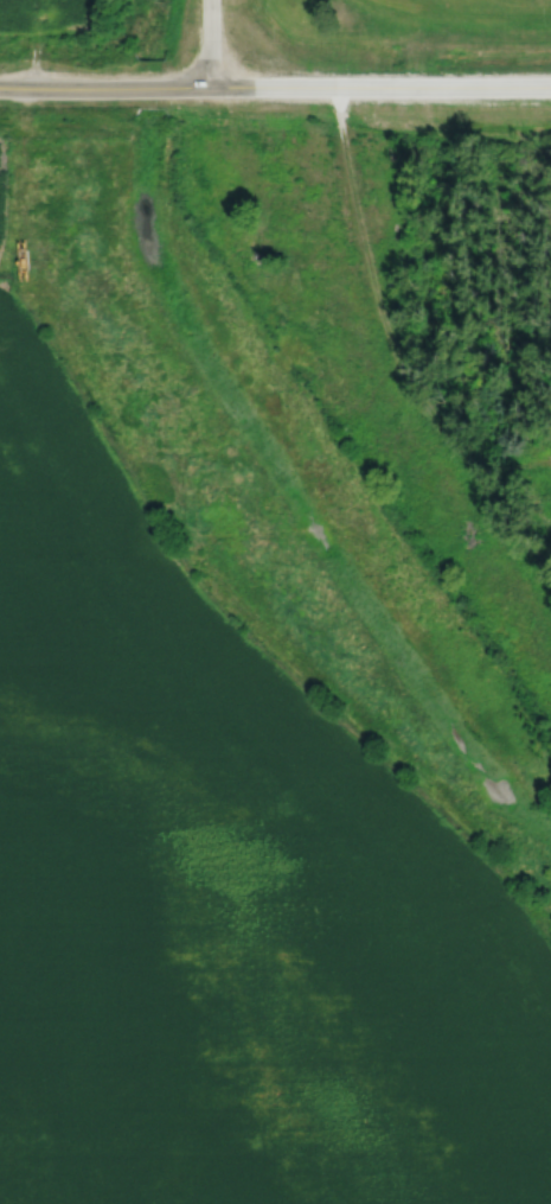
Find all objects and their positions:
crop: (46, 17)
road: (211, 43)
road: (275, 85)
road: (395, 352)
road: (513, 464)
crop: (223, 888)

